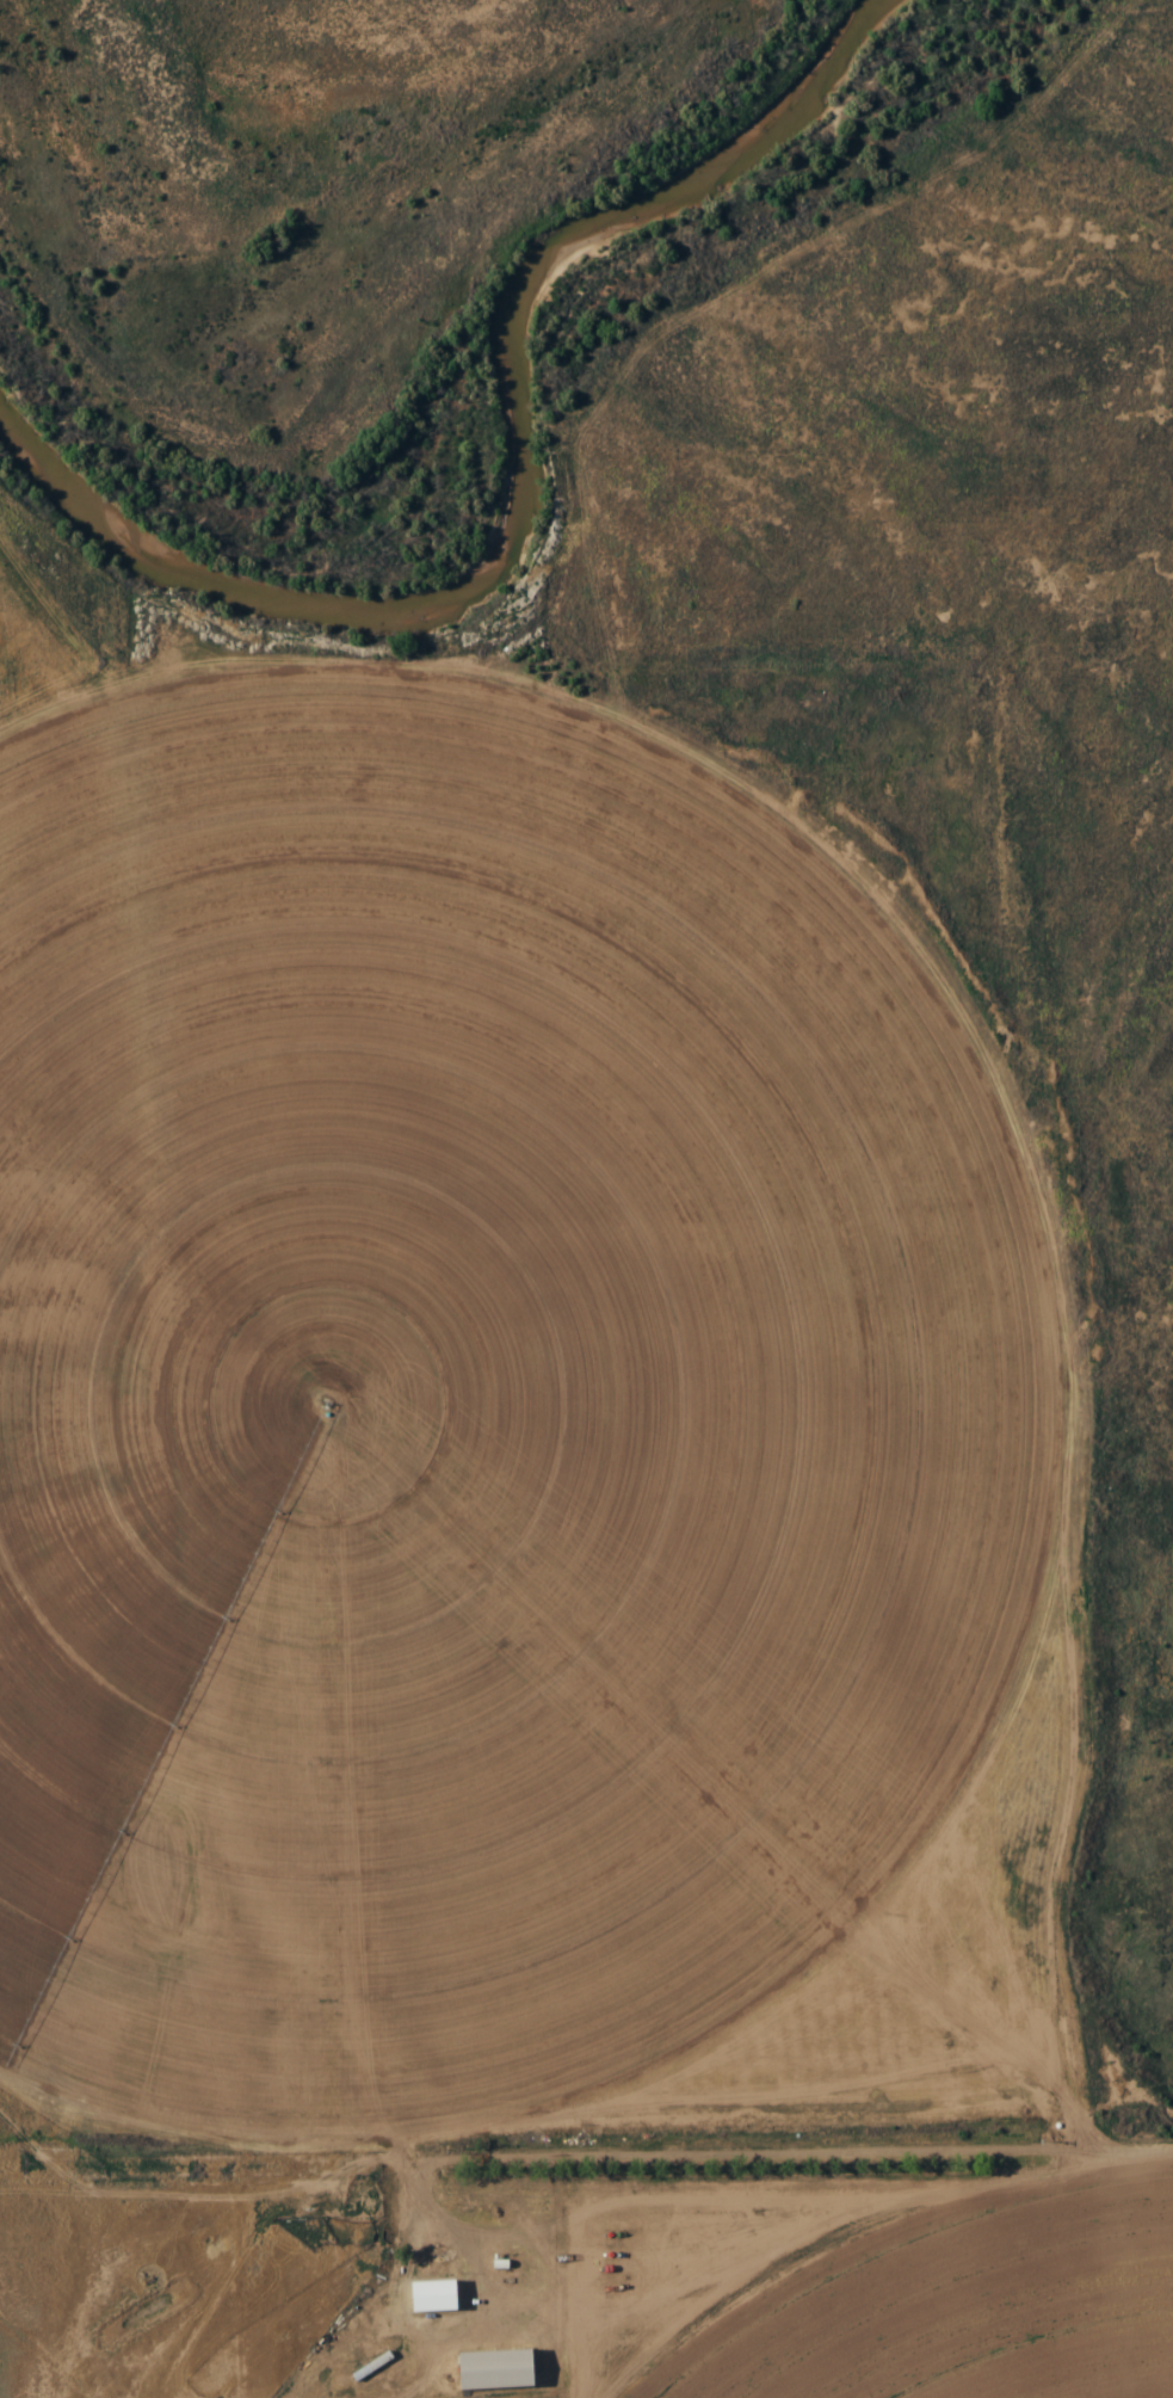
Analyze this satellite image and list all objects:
river: (518, 482)
building: (424, 2275)
building: (498, 2368)

